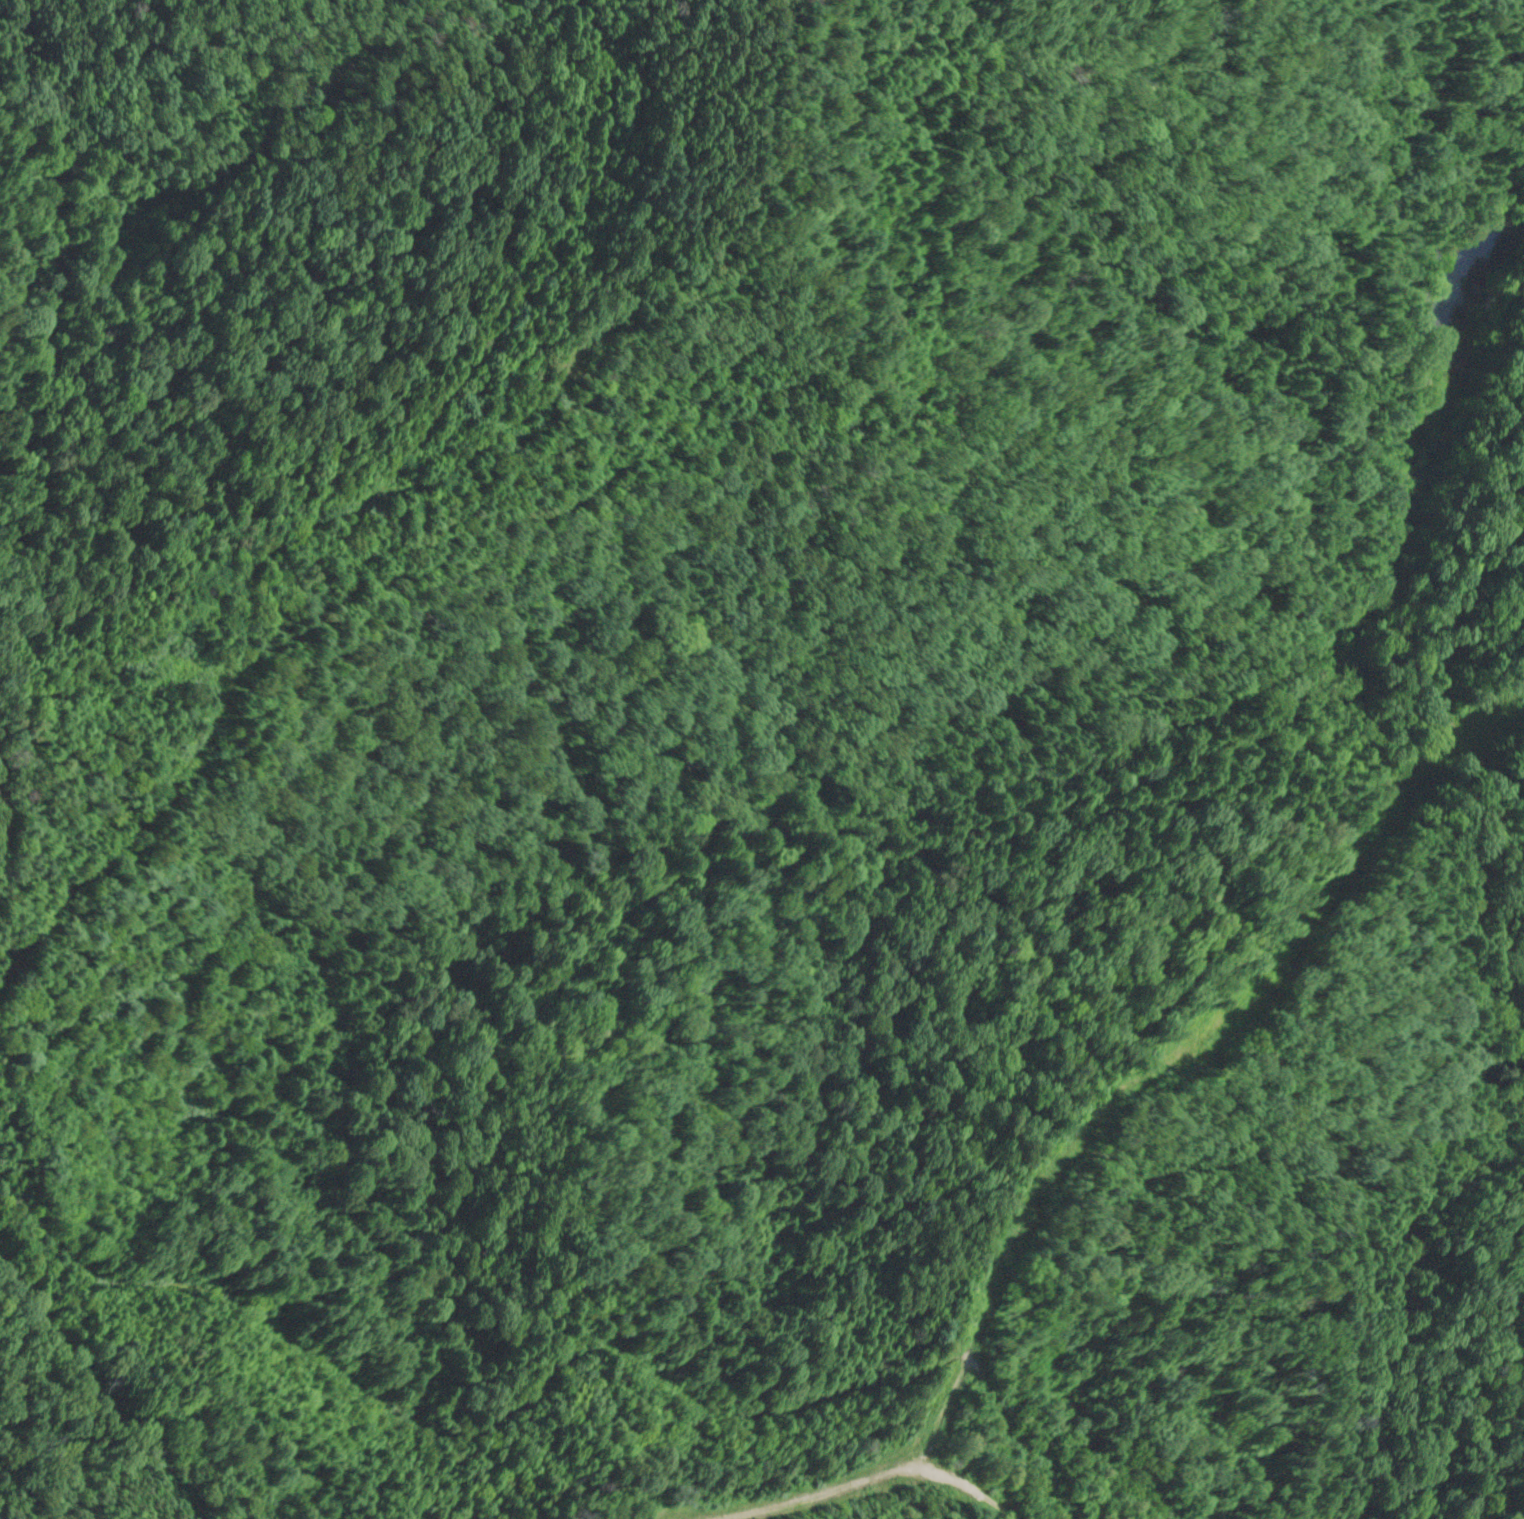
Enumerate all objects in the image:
road: (1007, 1248)
road: (869, 1478)

